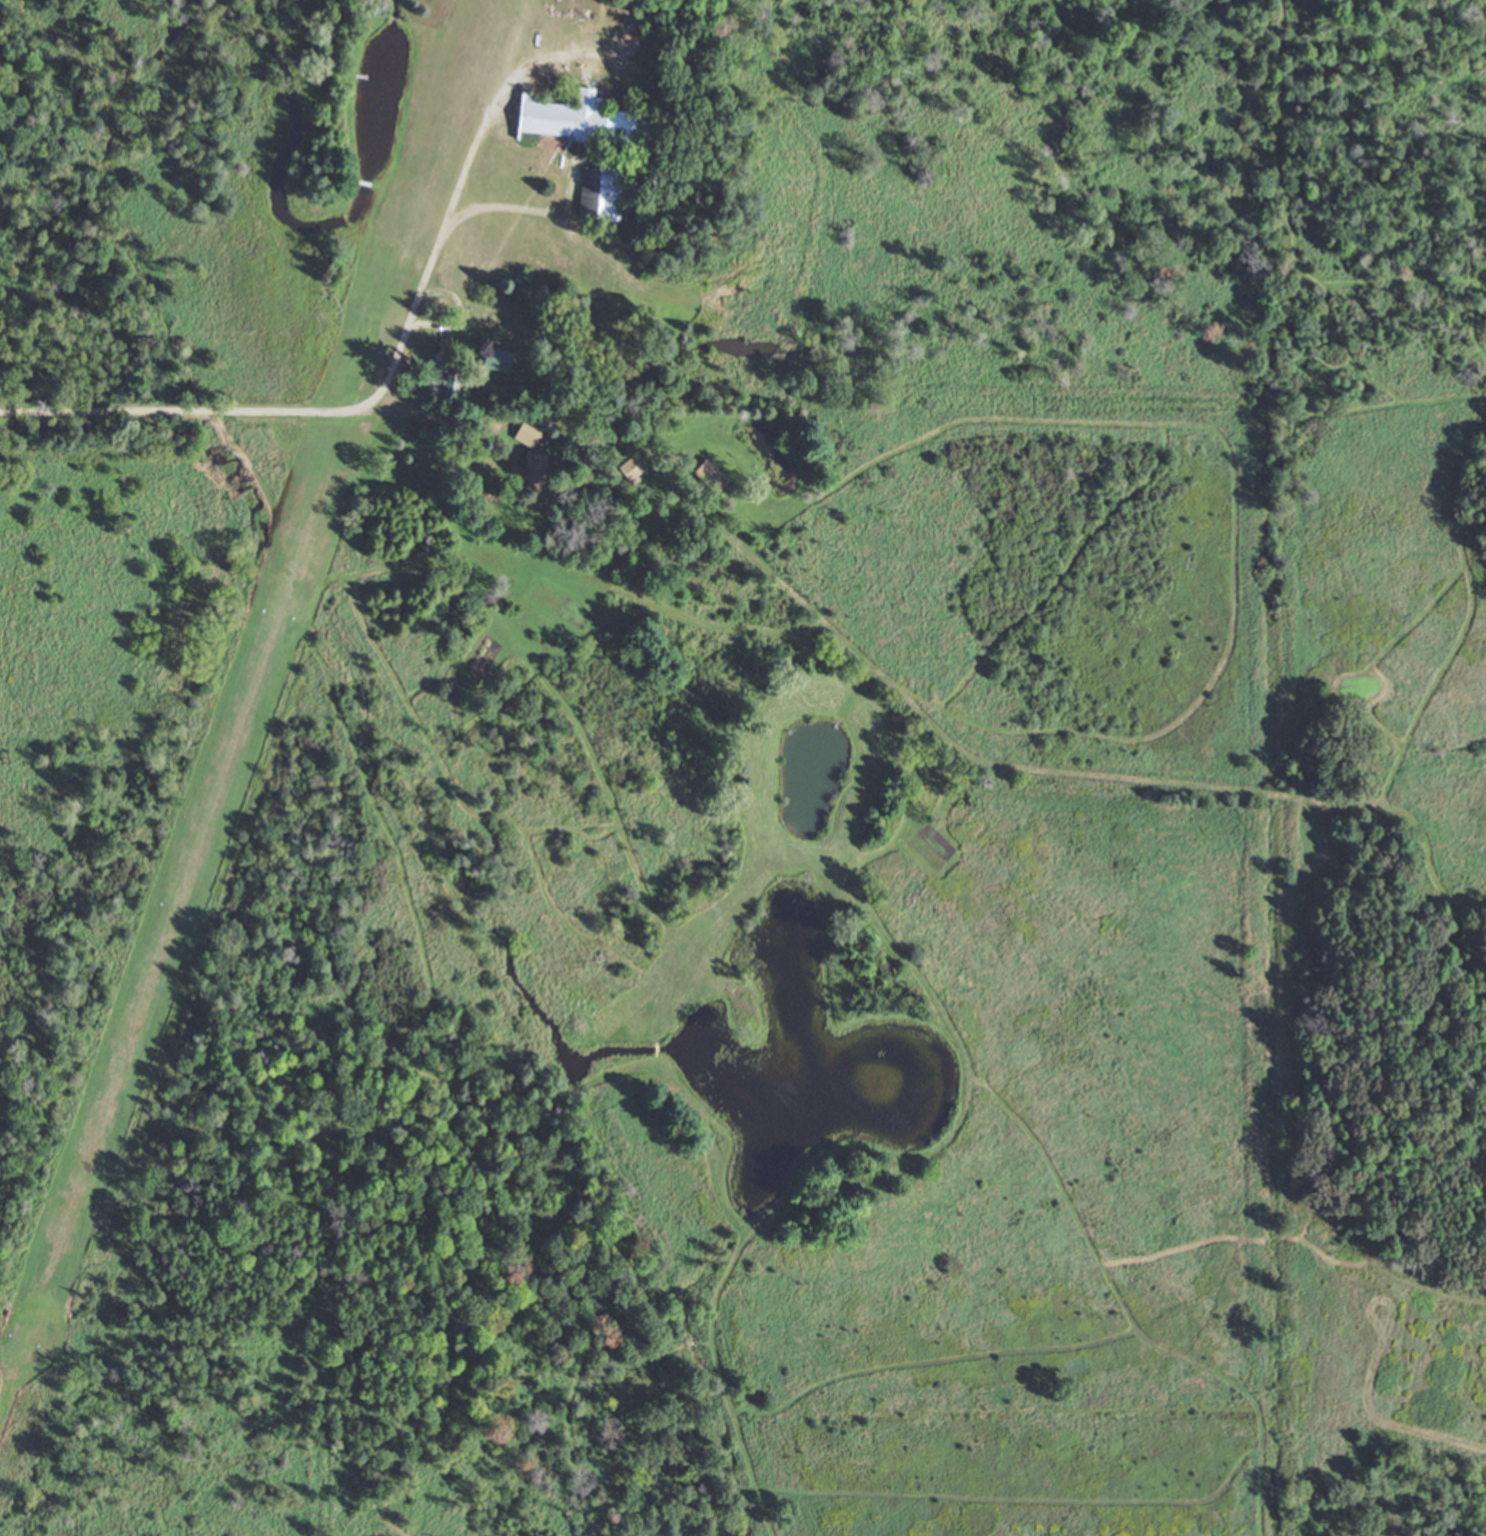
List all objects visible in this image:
building: (578, 114)
building: (615, 195)
road: (382, 385)
road: (435, 410)
building: (529, 456)
airport runway: (254, 671)

